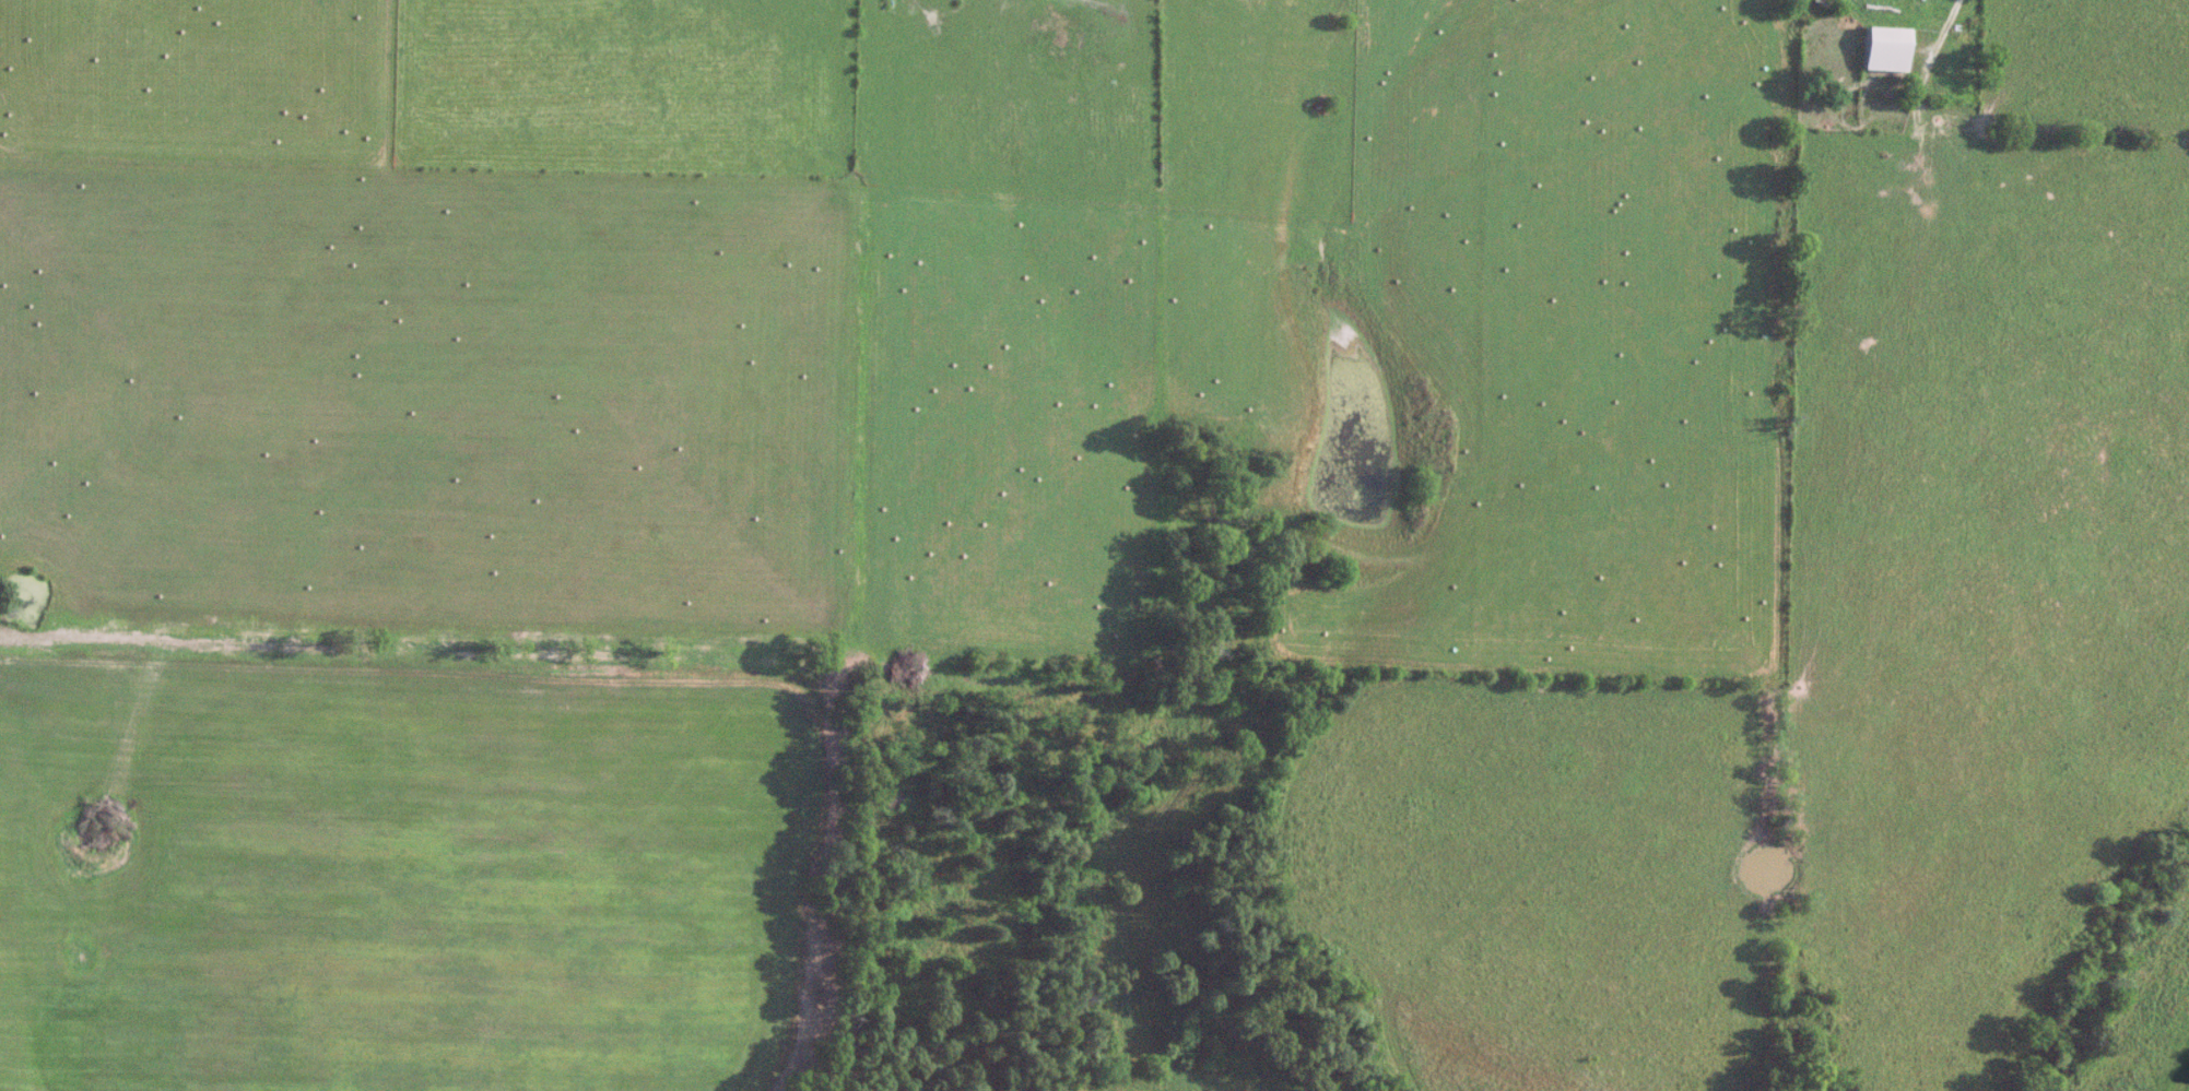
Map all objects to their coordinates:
road: (1944, 33)
building: (1883, 48)

